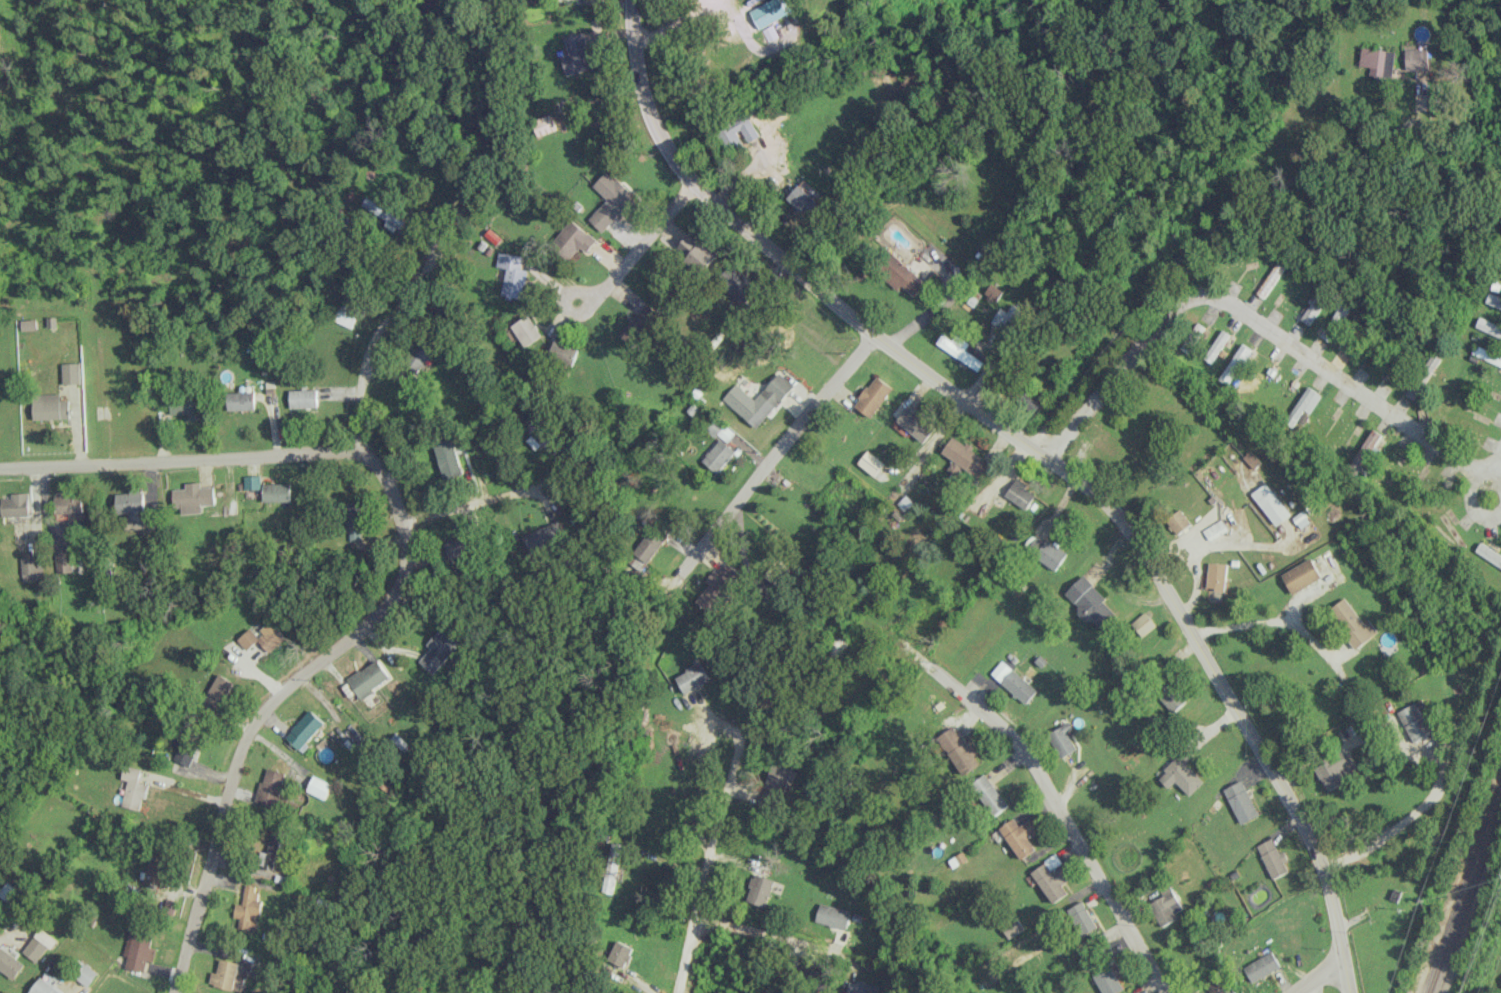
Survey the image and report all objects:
building: (768, 12)
building: (769, 32)
building: (577, 54)
building: (1416, 59)
building: (1377, 61)
building: (738, 132)
building: (609, 200)
building: (802, 200)
building: (382, 214)
road: (1208, 232)
building: (573, 240)
building: (694, 251)
road: (606, 253)
building: (898, 273)
building: (512, 274)
building: (1272, 277)
building: (737, 286)
building: (1493, 300)
road: (933, 306)
building: (1315, 306)
building: (345, 315)
road: (1250, 316)
building: (1336, 321)
building: (28, 324)
building: (639, 325)
building: (1488, 327)
building: (526, 331)
building: (1191, 337)
road: (373, 341)
building: (1215, 346)
building: (958, 349)
building: (564, 351)
building: (1486, 354)
building: (419, 357)
building: (1233, 363)
building: (70, 372)
building: (872, 396)
building: (304, 398)
building: (758, 399)
building: (241, 400)
building: (1029, 403)
building: (1302, 404)
building: (49, 406)
building: (190, 407)
building: (916, 422)
building: (538, 433)
road: (784, 450)
building: (1366, 451)
road: (1038, 452)
building: (719, 455)
building: (965, 456)
building: (448, 458)
building: (869, 462)
road: (1493, 462)
road: (1469, 490)
building: (277, 491)
building: (1021, 494)
building: (193, 497)
road: (490, 499)
building: (1270, 503)
building: (15, 504)
building: (69, 505)
building: (131, 508)
building: (353, 520)
building: (1178, 521)
building: (1215, 529)
building: (544, 536)
building: (648, 546)
building: (461, 547)
building: (1046, 551)
building: (1488, 554)
building: (63, 561)
building: (31, 568)
road: (402, 574)
building: (1301, 575)
building: (1216, 576)
building: (717, 587)
building: (1092, 603)
road: (1267, 620)
building: (1142, 623)
building: (1352, 623)
building: (263, 637)
building: (440, 649)
building: (692, 677)
building: (369, 678)
building: (1013, 681)
building: (218, 689)
building: (1171, 696)
building: (1417, 720)
building: (305, 730)
building: (1062, 738)
road: (373, 750)
building: (959, 751)
building: (186, 752)
building: (1335, 771)
building: (1180, 775)
building: (778, 777)
building: (270, 786)
building: (319, 786)
building: (132, 787)
building: (989, 794)
building: (1240, 801)
road: (1063, 814)
road: (1401, 822)
building: (1019, 835)
building: (270, 846)
building: (1273, 858)
building: (613, 865)
road: (704, 867)
building: (156, 869)
building: (1051, 878)
building: (759, 889)
railway: (1464, 890)
building: (1166, 906)
building: (248, 908)
building: (832, 915)
building: (1080, 918)
road: (766, 939)
building: (38, 944)
building: (137, 949)
building: (619, 954)
building: (10, 963)
building: (1261, 966)
building: (86, 974)
building: (224, 974)
road: (1317, 974)
building: (1108, 980)
building: (44, 987)
building: (860, 987)
building: (1225, 990)

